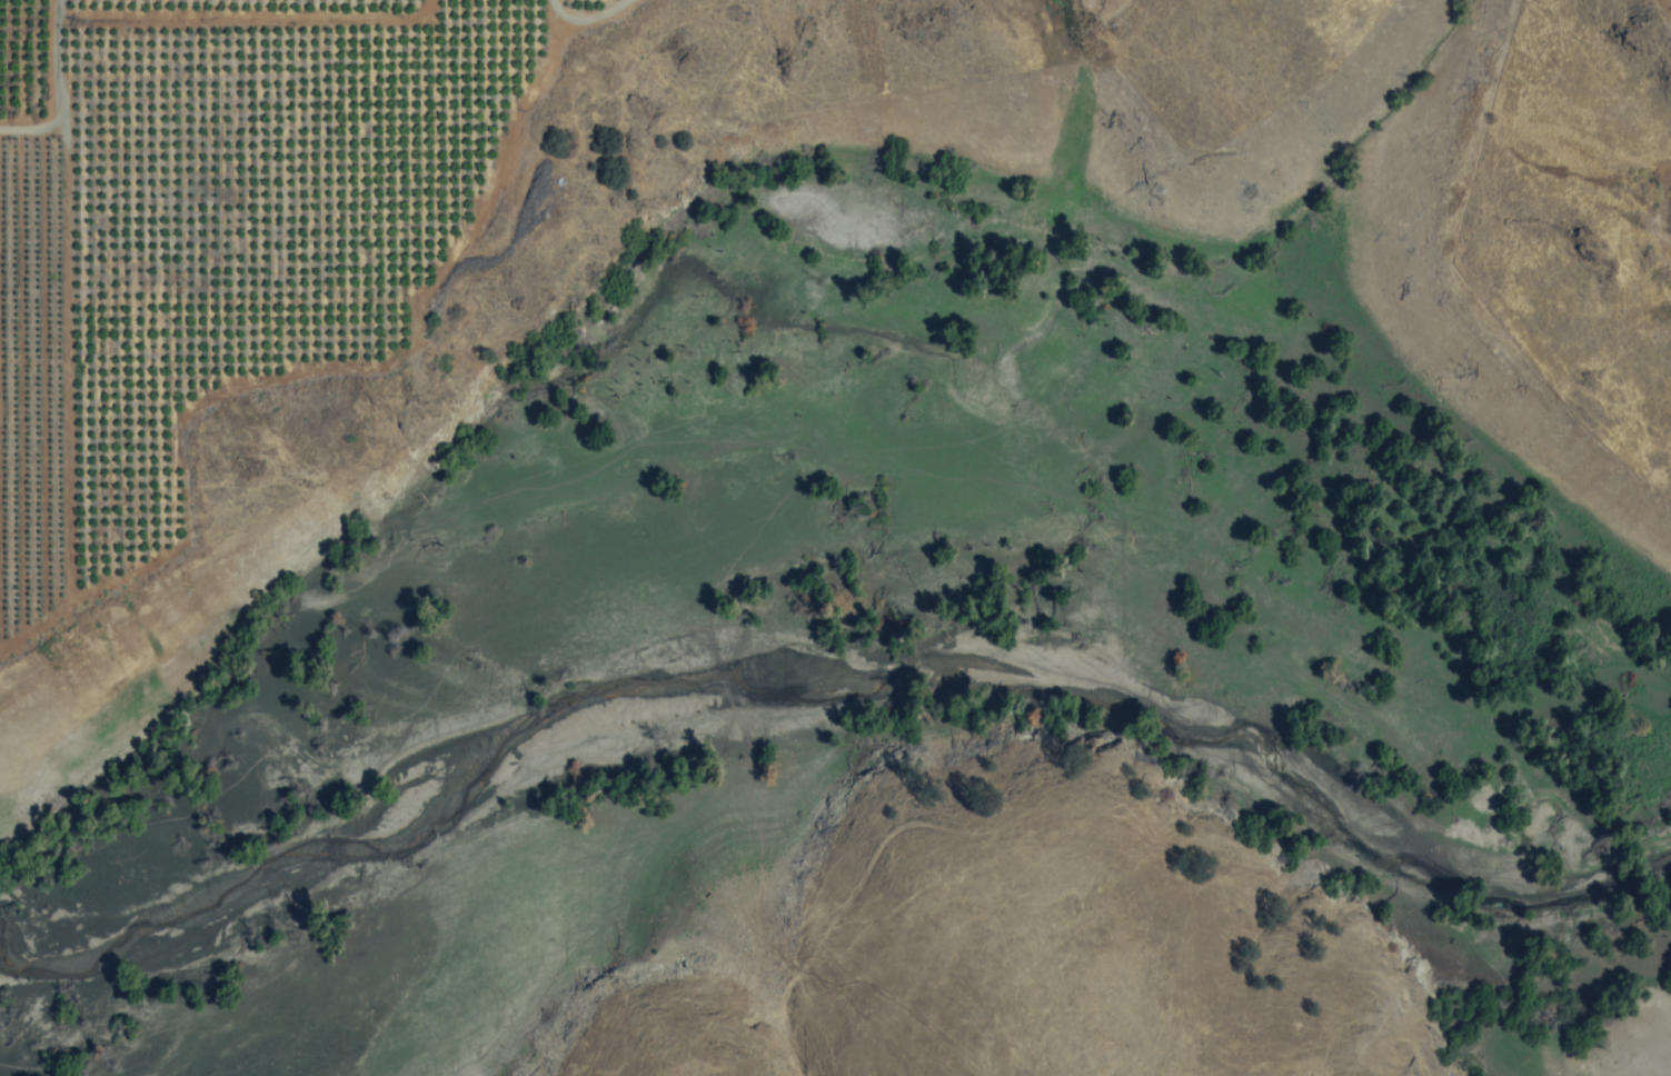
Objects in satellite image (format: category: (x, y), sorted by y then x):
crop: (1093, 6)
crop: (1664, 8)
building: (377, 134)
crop: (1668, 220)
crop: (232, 240)
river: (817, 680)

